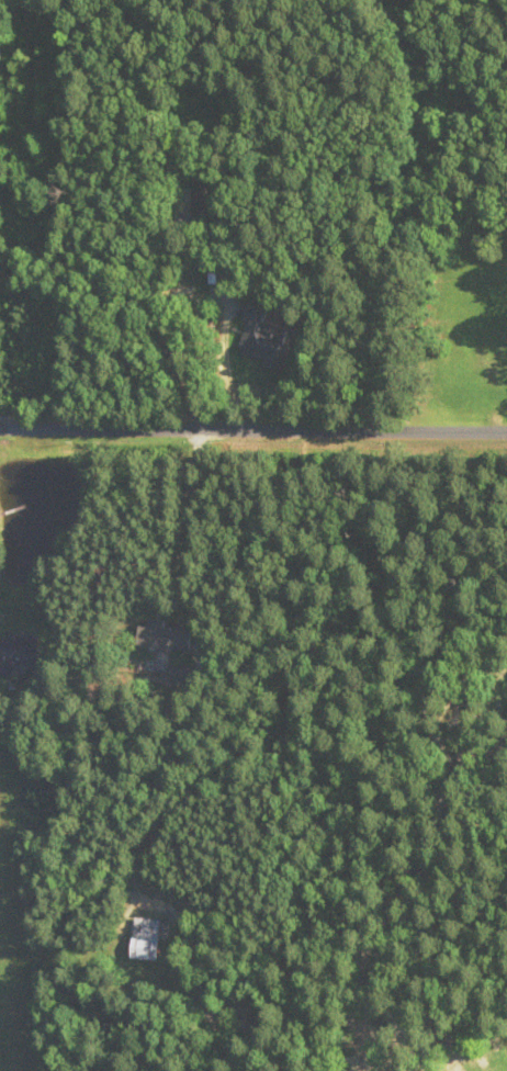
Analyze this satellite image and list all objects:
building: (0, 36)
building: (207, 192)
building: (267, 339)
road: (253, 430)
building: (167, 636)
building: (18, 652)
building: (147, 938)

